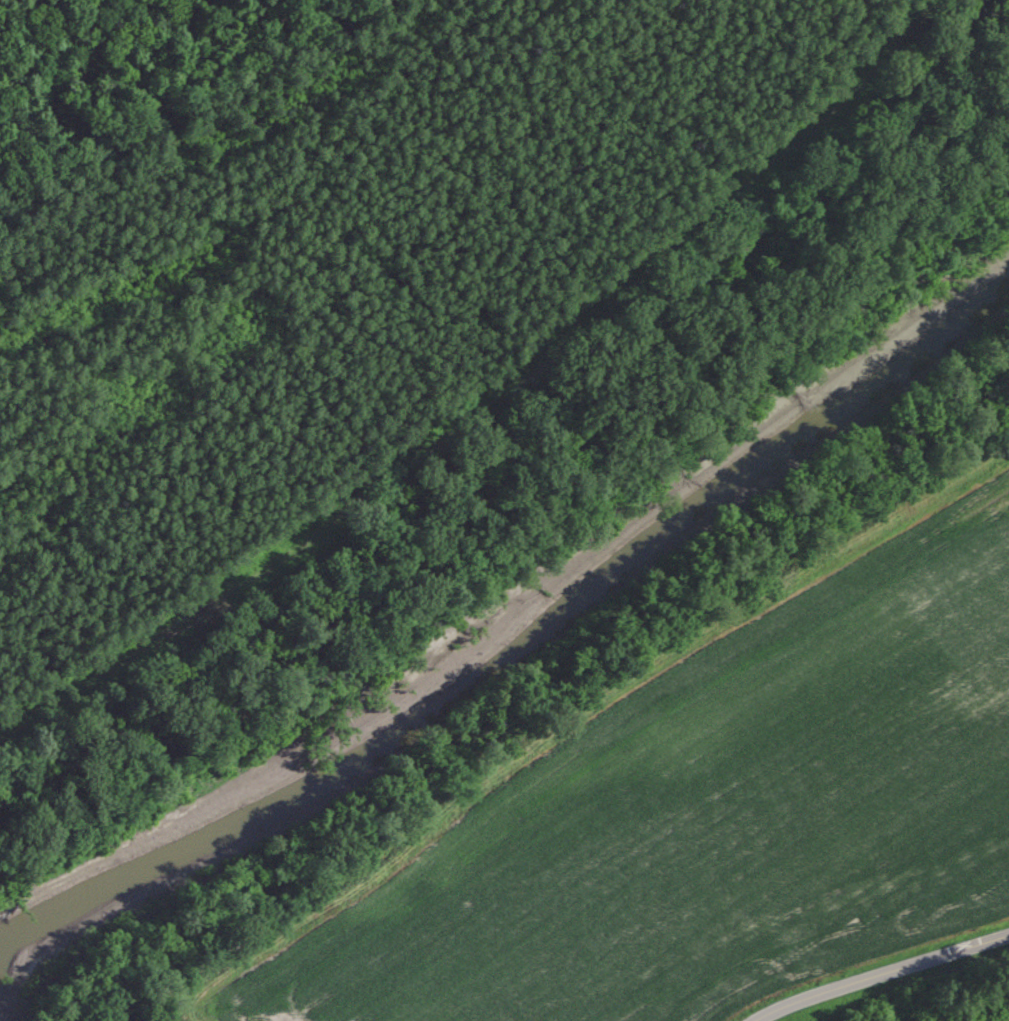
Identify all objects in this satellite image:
road: (880, 973)

